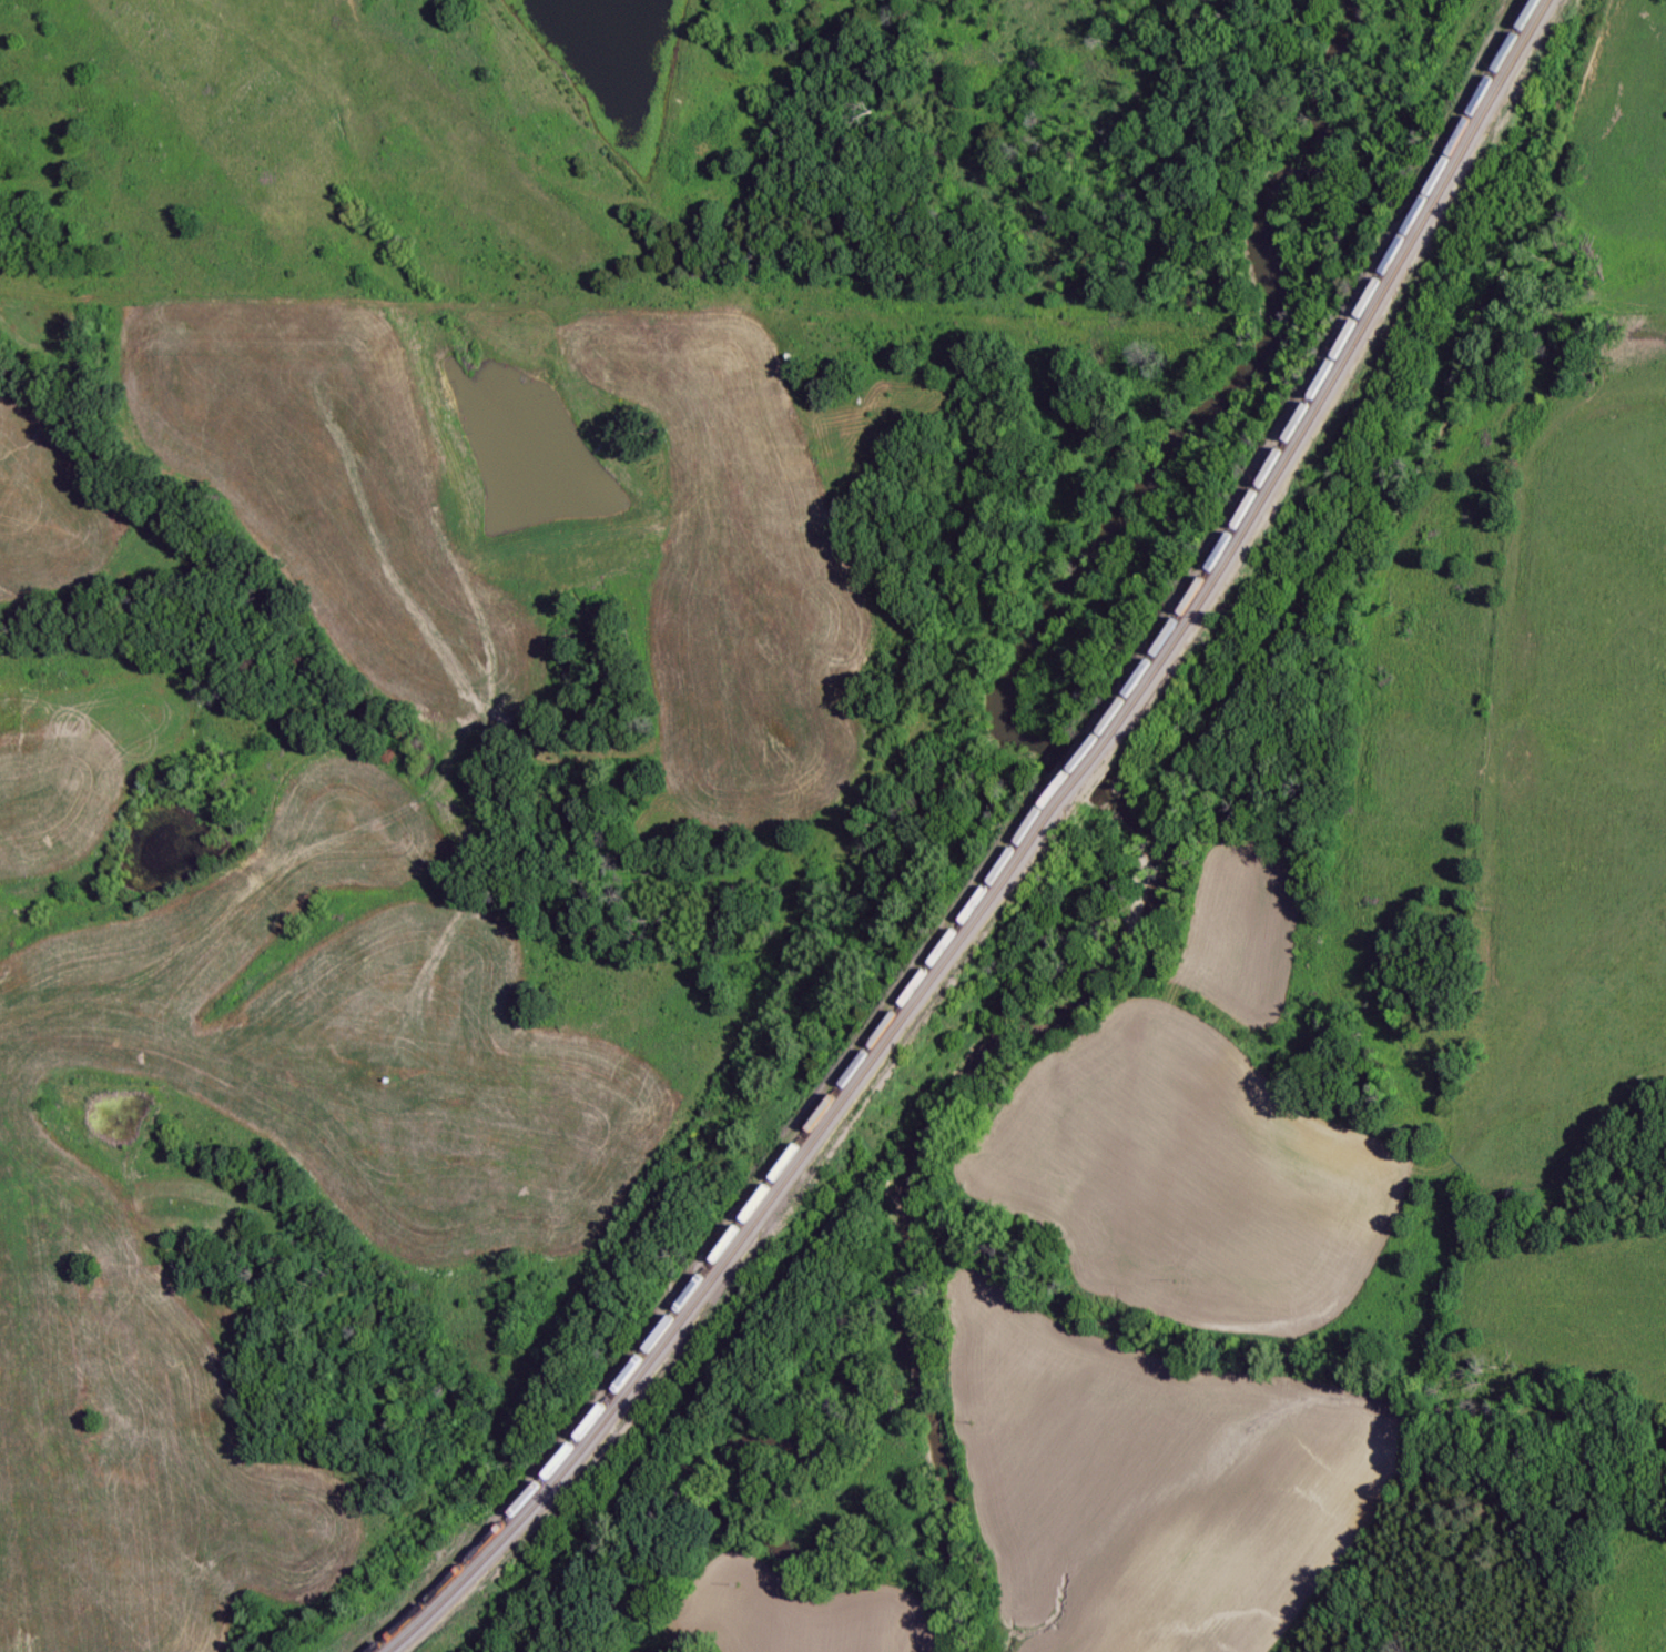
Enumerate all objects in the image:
railway: (1022, 861)
railway: (1006, 862)

